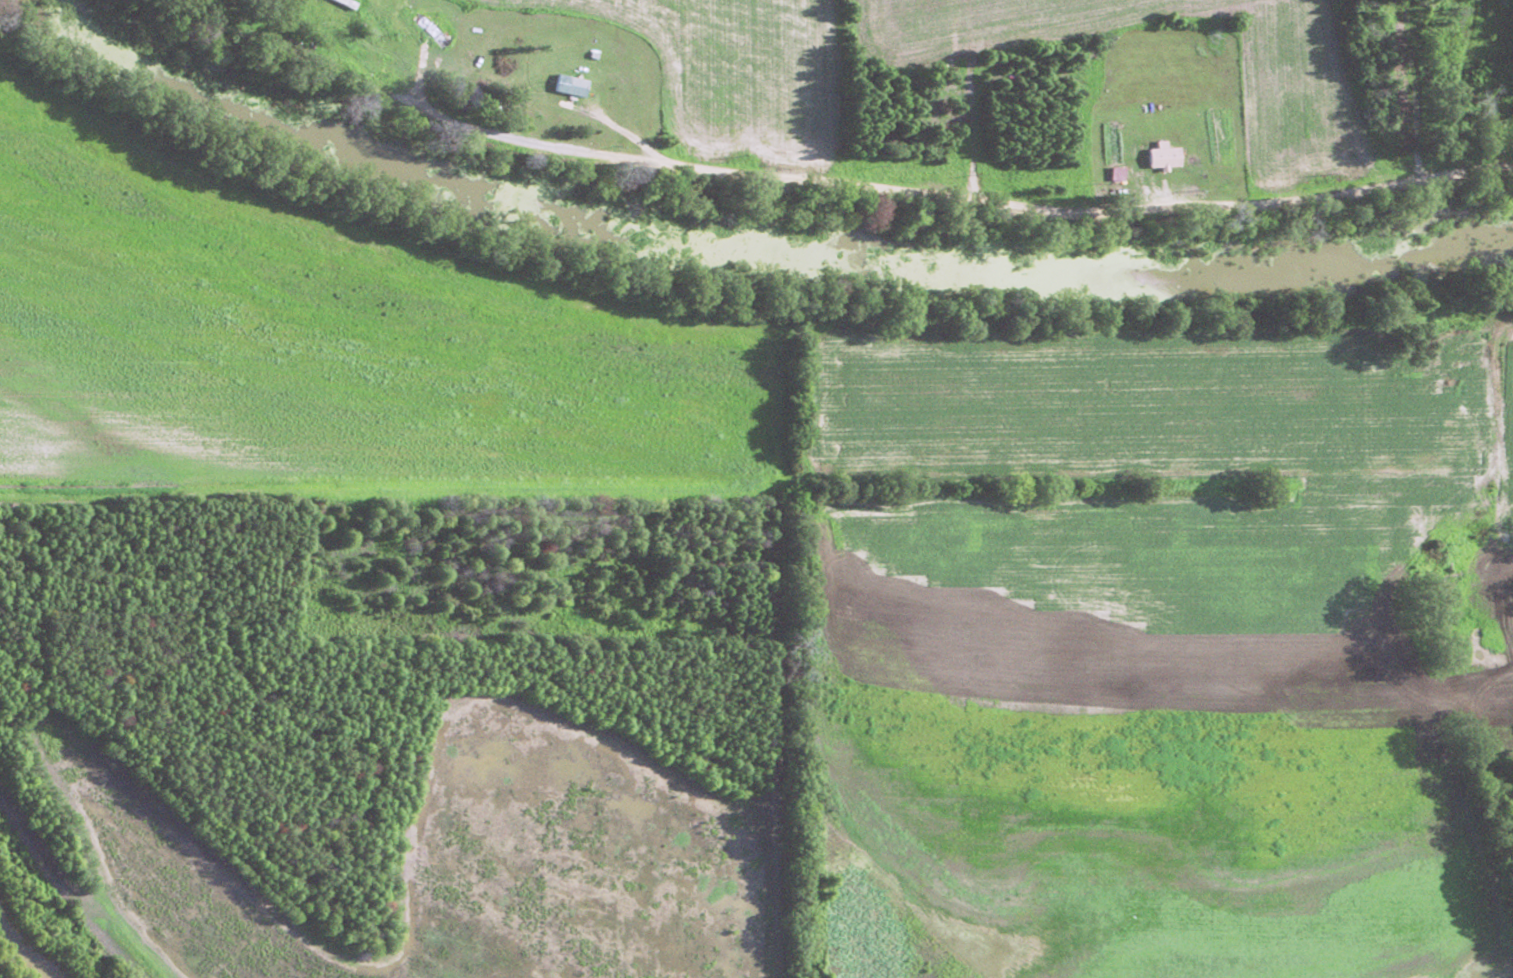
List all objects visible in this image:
building: (569, 85)
road: (819, 177)
river: (772, 240)

